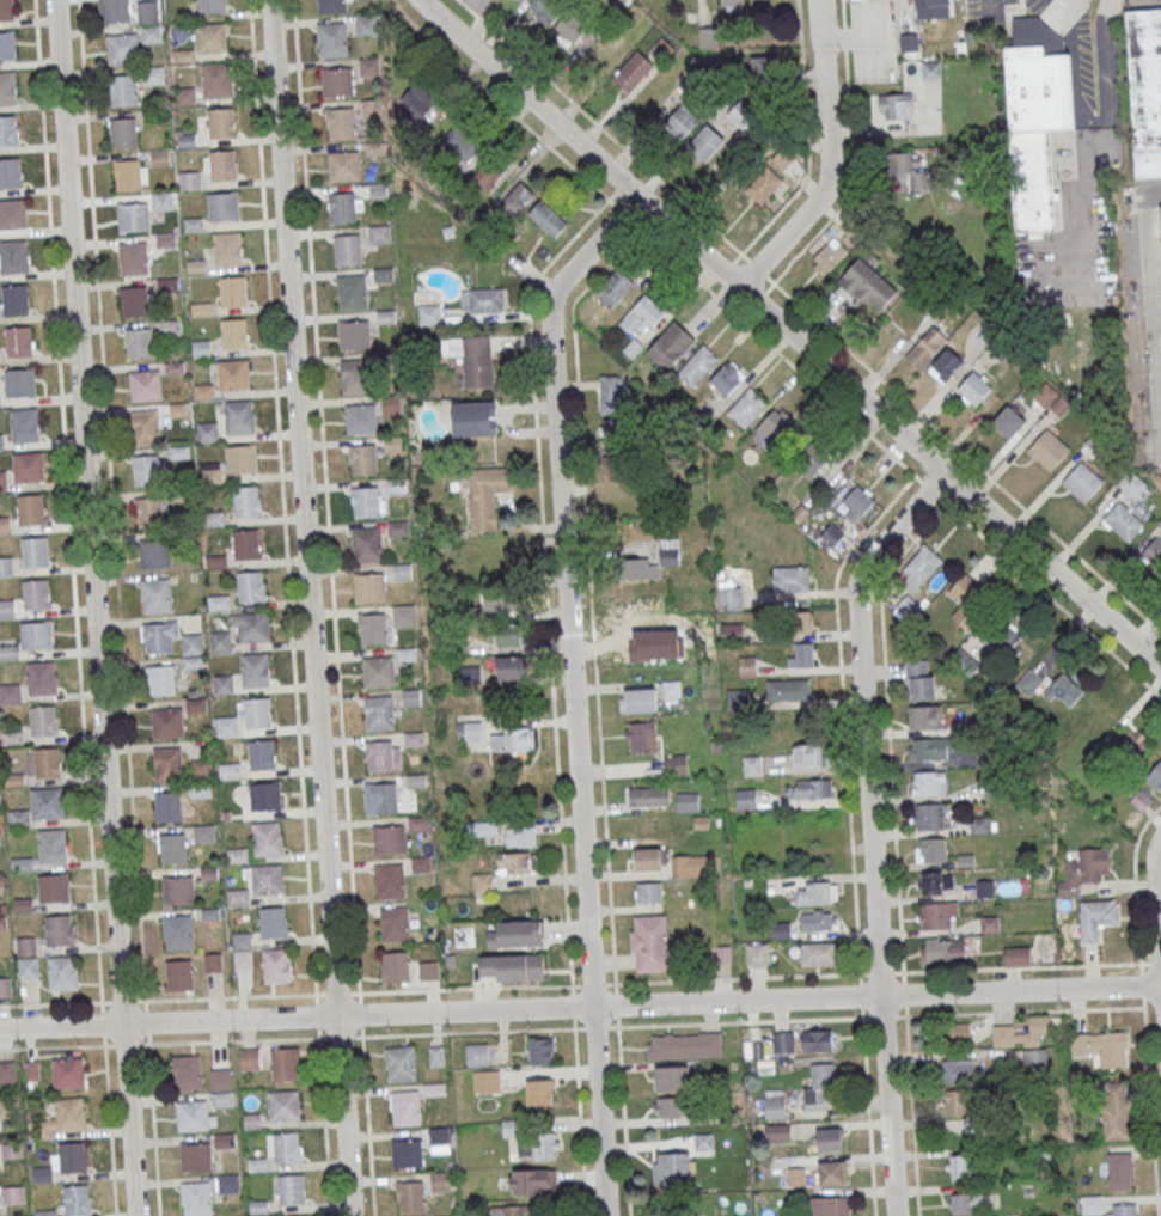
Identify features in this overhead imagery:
building: (850, 0)
building: (928, 2)
building: (209, 5)
building: (732, 5)
road: (990, 5)
road: (1110, 5)
building: (331, 6)
building: (6, 10)
building: (114, 11)
building: (148, 12)
building: (366, 24)
building: (570, 26)
building: (212, 37)
building: (332, 38)
building: (909, 41)
building: (7, 45)
building: (122, 48)
building: (661, 49)
building: (765, 65)
building: (368, 67)
building: (930, 69)
building: (633, 71)
building: (154, 74)
building: (216, 80)
building: (337, 81)
building: (7, 86)
building: (1145, 87)
building: (122, 88)
building: (418, 100)
road: (502, 104)
building: (896, 105)
building: (741, 114)
building: (1037, 115)
building: (221, 122)
building: (680, 122)
building: (342, 124)
road: (604, 129)
building: (7, 130)
building: (123, 132)
road: (1095, 139)
building: (459, 142)
building: (705, 142)
road: (806, 145)
road: (826, 160)
road: (851, 161)
building: (222, 164)
building: (343, 165)
building: (905, 166)
building: (490, 171)
building: (11, 172)
building: (127, 175)
building: (517, 198)
building: (163, 201)
building: (222, 206)
building: (342, 207)
building: (13, 213)
road: (623, 213)
building: (133, 216)
building: (548, 218)
road: (1082, 228)
building: (379, 233)
building: (227, 245)
building: (347, 249)
building: (14, 255)
building: (829, 256)
building: (133, 258)
road: (726, 268)
road: (757, 268)
building: (166, 283)
building: (867, 283)
building: (613, 286)
building: (232, 291)
building: (352, 291)
road: (759, 297)
building: (16, 299)
building: (482, 299)
building: (134, 300)
building: (429, 313)
building: (170, 326)
building: (233, 332)
building: (354, 334)
road: (789, 334)
building: (19, 341)
building: (138, 342)
building: (670, 344)
building: (925, 347)
building: (475, 359)
building: (697, 365)
building: (945, 365)
building: (232, 374)
building: (356, 377)
building: (727, 378)
building: (20, 383)
building: (145, 385)
building: (974, 387)
building: (612, 395)
building: (391, 407)
building: (746, 407)
building: (239, 416)
building: (360, 418)
building: (473, 418)
building: (1009, 421)
building: (24, 424)
building: (145, 426)
building: (772, 429)
building: (207, 432)
building: (619, 434)
building: (1, 442)
building: (1047, 448)
road: (963, 452)
building: (243, 458)
building: (362, 459)
building: (813, 459)
road: (896, 459)
building: (618, 465)
building: (29, 466)
building: (148, 470)
building: (210, 472)
building: (2, 479)
building: (1082, 481)
building: (1131, 484)
building: (487, 496)
road: (67, 501)
building: (245, 501)
building: (367, 501)
building: (857, 502)
road: (111, 505)
building: (30, 509)
building: (149, 511)
building: (1124, 520)
building: (1159, 521)
building: (831, 534)
building: (245, 544)
building: (366, 544)
building: (35, 551)
building: (154, 554)
building: (488, 560)
building: (650, 561)
building: (6, 566)
building: (919, 567)
road: (546, 578)
building: (790, 578)
building: (251, 586)
road: (289, 587)
building: (369, 587)
building: (729, 592)
building: (36, 593)
building: (155, 594)
building: (965, 599)
building: (505, 600)
road: (94, 607)
road: (310, 607)
building: (908, 607)
building: (7, 609)
building: (798, 622)
building: (374, 628)
building: (673, 629)
building: (729, 630)
building: (37, 635)
building: (509, 635)
building: (160, 637)
building: (1006, 640)
building: (220, 641)
building: (193, 643)
building: (8, 652)
building: (800, 654)
building: (960, 659)
building: (193, 662)
building: (746, 666)
building: (511, 667)
building: (255, 670)
building: (378, 671)
building: (41, 677)
building: (919, 679)
building: (160, 680)
building: (1028, 682)
building: (224, 685)
building: (787, 689)
road: (572, 690)
building: (1064, 690)
building: (10, 692)
building: (411, 697)
building: (640, 699)
building: (196, 705)
road: (598, 709)
building: (257, 713)
building: (379, 713)
building: (924, 716)
building: (43, 720)
building: (166, 722)
building: (227, 726)
building: (469, 728)
road: (341, 729)
building: (12, 737)
building: (641, 737)
building: (511, 739)
building: (1130, 745)
building: (928, 748)
building: (262, 753)
building: (383, 754)
building: (807, 756)
building: (47, 762)
building: (167, 764)
building: (674, 764)
building: (751, 764)
building: (201, 769)
building: (1155, 776)
building: (928, 782)
building: (809, 788)
building: (200, 790)
building: (265, 795)
building: (648, 795)
building: (384, 796)
building: (745, 798)
building: (686, 801)
building: (47, 802)
building: (167, 806)
building: (928, 815)
building: (18, 818)
building: (482, 829)
road: (870, 829)
road: (849, 831)
building: (203, 832)
building: (520, 836)
building: (268, 838)
building: (389, 839)
building: (53, 845)
building: (172, 848)
road: (896, 849)
building: (930, 849)
building: (646, 858)
building: (513, 863)
building: (689, 866)
building: (1083, 869)
building: (265, 879)
building: (390, 880)
building: (934, 881)
building: (483, 882)
building: (54, 887)
building: (985, 888)
building: (178, 890)
building: (648, 892)
building: (817, 892)
road: (1156, 903)
building: (937, 915)
building: (1096, 917)
building: (818, 921)
building: (274, 922)
building: (393, 923)
building: (989, 924)
building: (60, 929)
building: (178, 931)
building: (517, 934)
building: (649, 943)
building: (942, 951)
building: (819, 953)
building: (756, 955)
building: (1016, 955)
building: (243, 959)
building: (276, 965)
building: (28, 966)
building: (395, 966)
building: (511, 967)
building: (429, 971)
building: (62, 972)
building: (178, 974)
road: (856, 976)
building: (5, 988)
road: (336, 992)
road: (359, 992)
road: (317, 994)
road: (122, 1001)
road: (55, 1003)
road: (102, 1006)
road: (580, 1007)
road: (1144, 1007)
road: (317, 1014)
road: (360, 1014)
road: (858, 1016)
road: (102, 1022)
road: (147, 1022)
building: (960, 1032)
building: (1022, 1032)
road: (356, 1035)
road: (340, 1037)
building: (819, 1040)
road: (164, 1041)
building: (782, 1041)
building: (684, 1045)
building: (1101, 1046)
building: (540, 1050)
building: (476, 1055)
building: (250, 1058)
building: (1034, 1059)
building: (283, 1063)
building: (399, 1063)
building: (957, 1069)
building: (6, 1070)
building: (68, 1071)
building: (187, 1073)
building: (672, 1077)
building: (485, 1081)
building: (819, 1086)
building: (221, 1087)
building: (540, 1092)
building: (957, 1101)
building: (283, 1105)
building: (775, 1105)
building: (672, 1106)
building: (404, 1107)
building: (191, 1116)
building: (1114, 1117)
building: (65, 1118)
road: (324, 1120)
road: (367, 1122)
road: (579, 1122)
road: (109, 1125)
road: (153, 1125)
building: (777, 1132)
building: (224, 1139)
building: (441, 1139)
building: (829, 1139)
building: (703, 1144)
building: (283, 1147)
building: (538, 1147)
building: (407, 1153)
building: (69, 1156)
building: (196, 1156)
building: (671, 1167)
building: (959, 1167)
building: (1119, 1172)
building: (831, 1173)
building: (440, 1180)
building: (531, 1181)
building: (228, 1184)
building: (291, 1188)
building: (410, 1196)
building: (196, 1198)
building: (77, 1199)
building: (970, 1200)
building: (1092, 1204)
building: (830, 1205)
building: (515, 1210)
building: (1124, 1210)
building: (1029, 1215)

